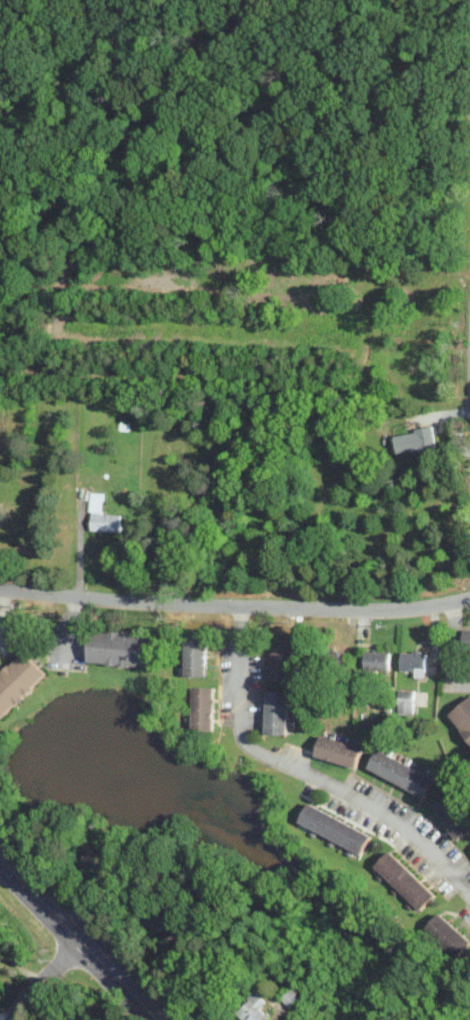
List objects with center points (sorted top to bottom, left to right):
road: (231, 2)
road: (258, 4)
road: (196, 28)
parking lot: (226, 28)
road: (117, 58)
road: (128, 145)
park: (236, 280)
building: (415, 440)
building: (102, 516)
road: (77, 550)
road: (235, 605)
road: (1, 614)
road: (70, 629)
building: (467, 639)
road: (452, 647)
building: (120, 648)
building: (196, 653)
building: (283, 659)
building: (376, 660)
building: (413, 661)
building: (335, 662)
building: (19, 681)
building: (406, 701)
building: (203, 708)
building: (277, 712)
dam: (32, 716)
building: (462, 717)
building: (338, 751)
building: (401, 772)
road: (306, 775)
building: (452, 815)
building: (335, 830)
building: (94, 863)
building: (405, 880)
building: (160, 922)
building: (447, 935)
road: (80, 936)
road: (46, 977)
building: (295, 994)
building: (252, 1008)
building: (68, 1019)
building: (69, 1019)

